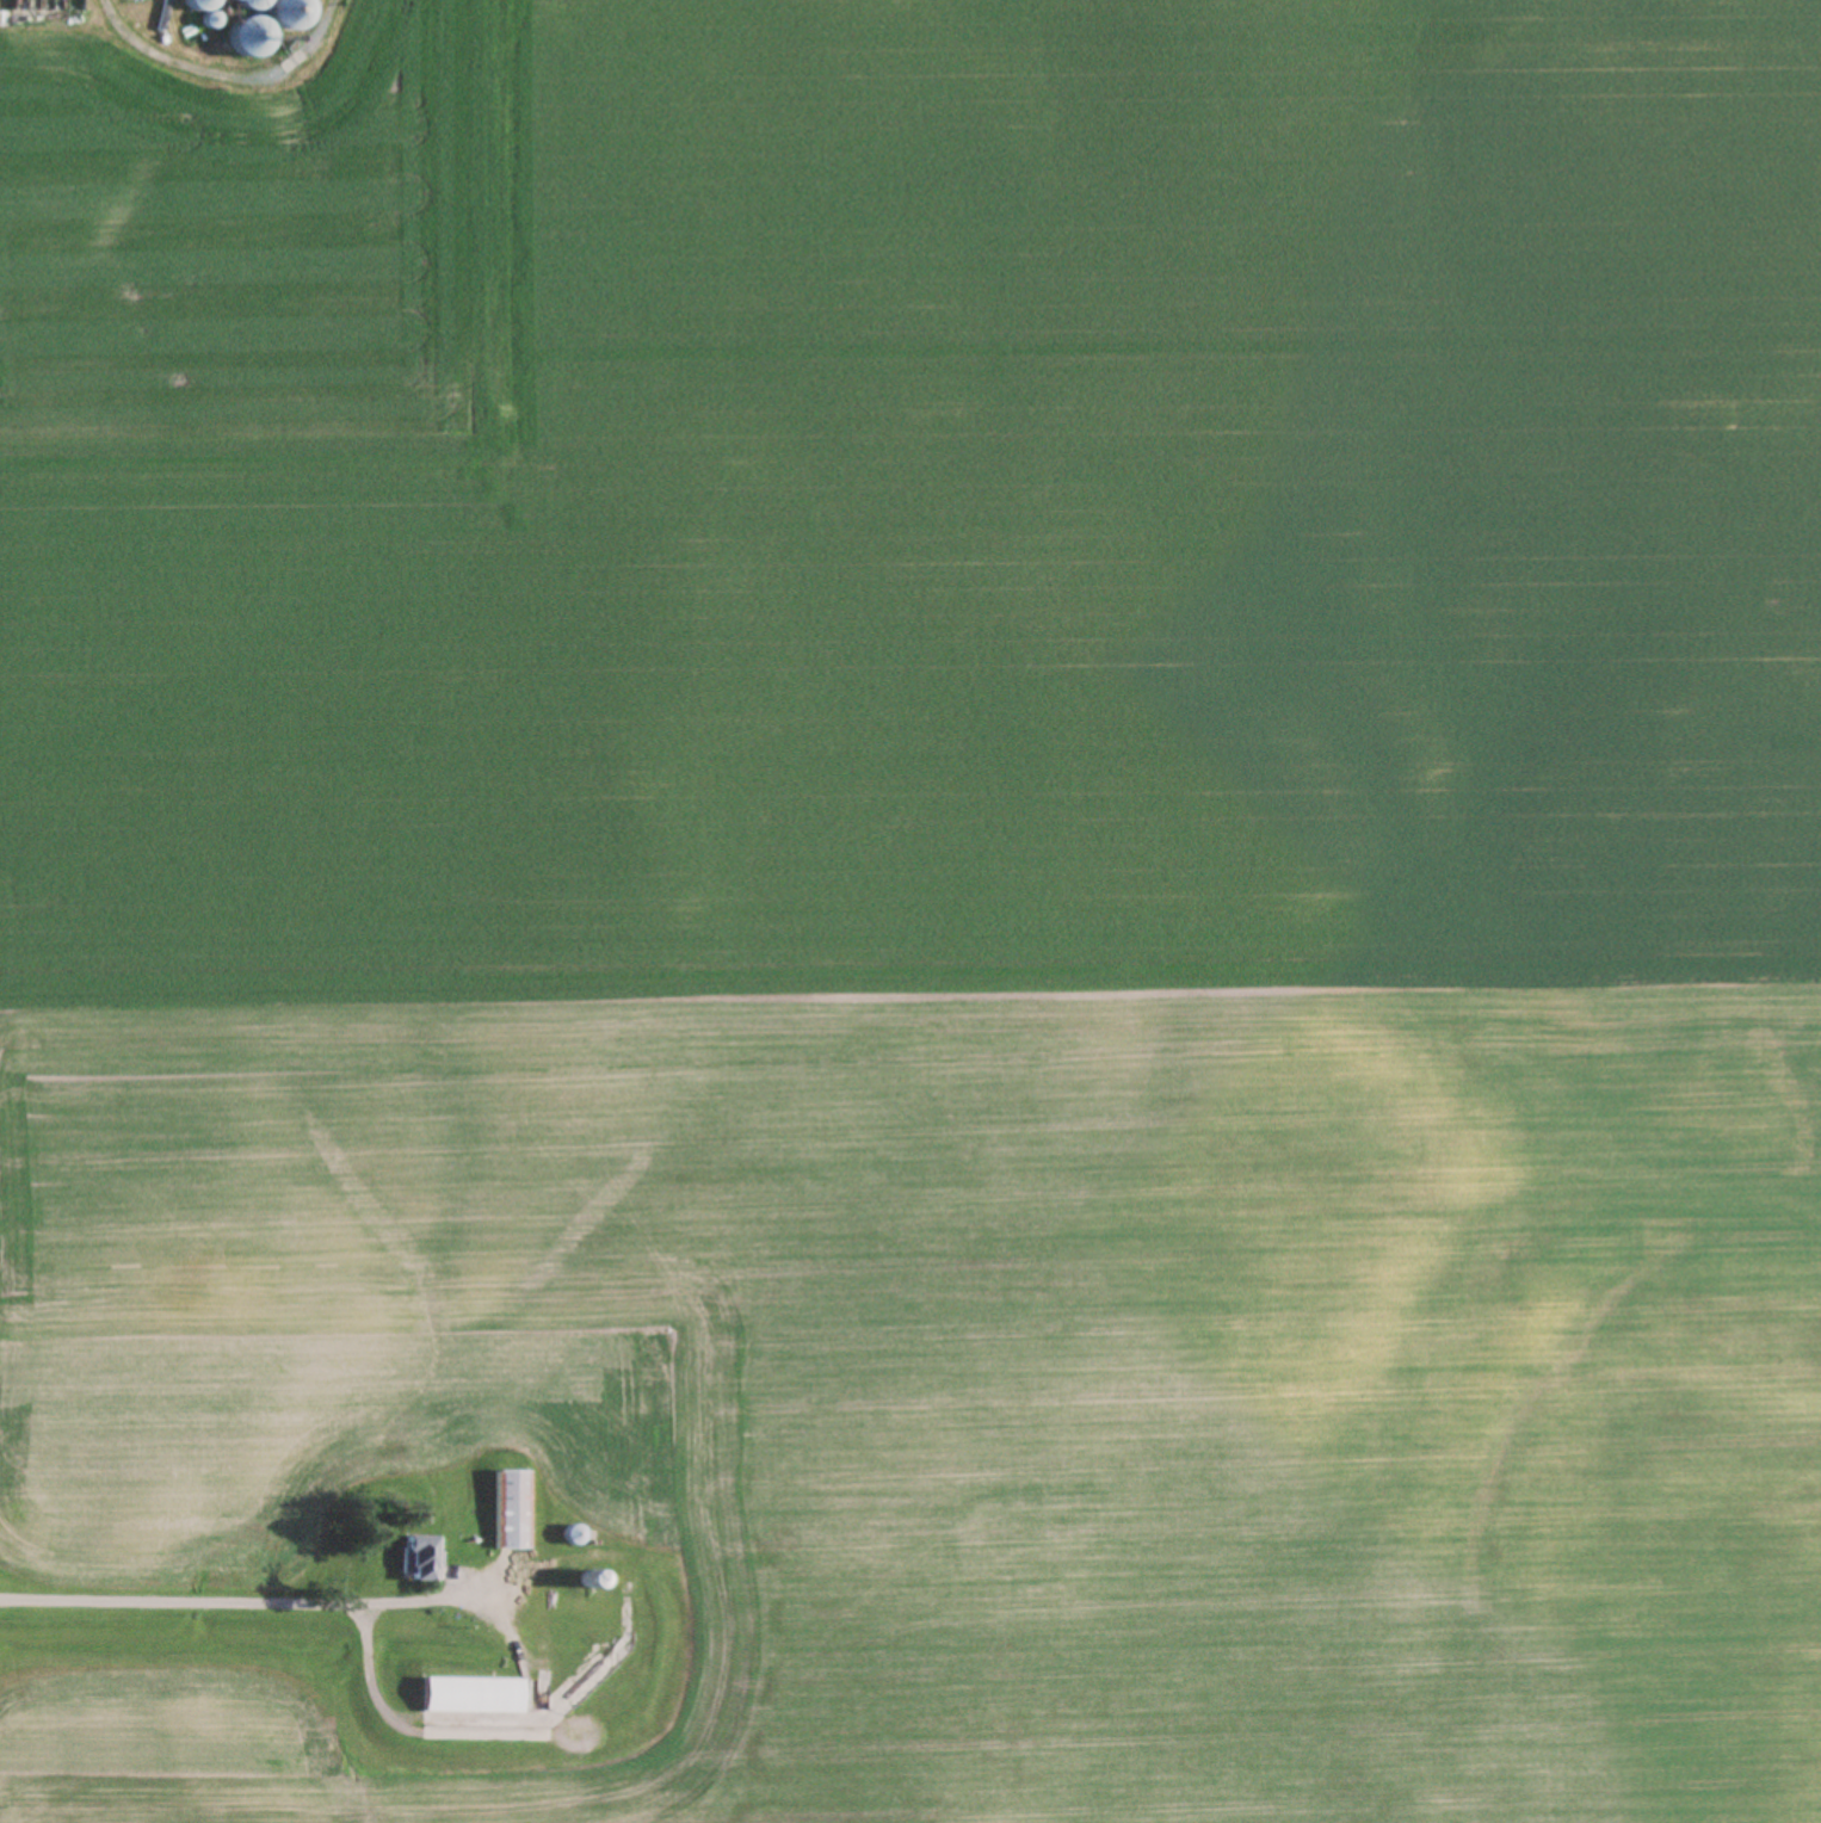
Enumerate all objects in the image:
building: (13, 23)
road: (223, 75)
building: (508, 1512)
building: (569, 1537)
building: (408, 1559)
road: (180, 1601)
building: (465, 1698)

